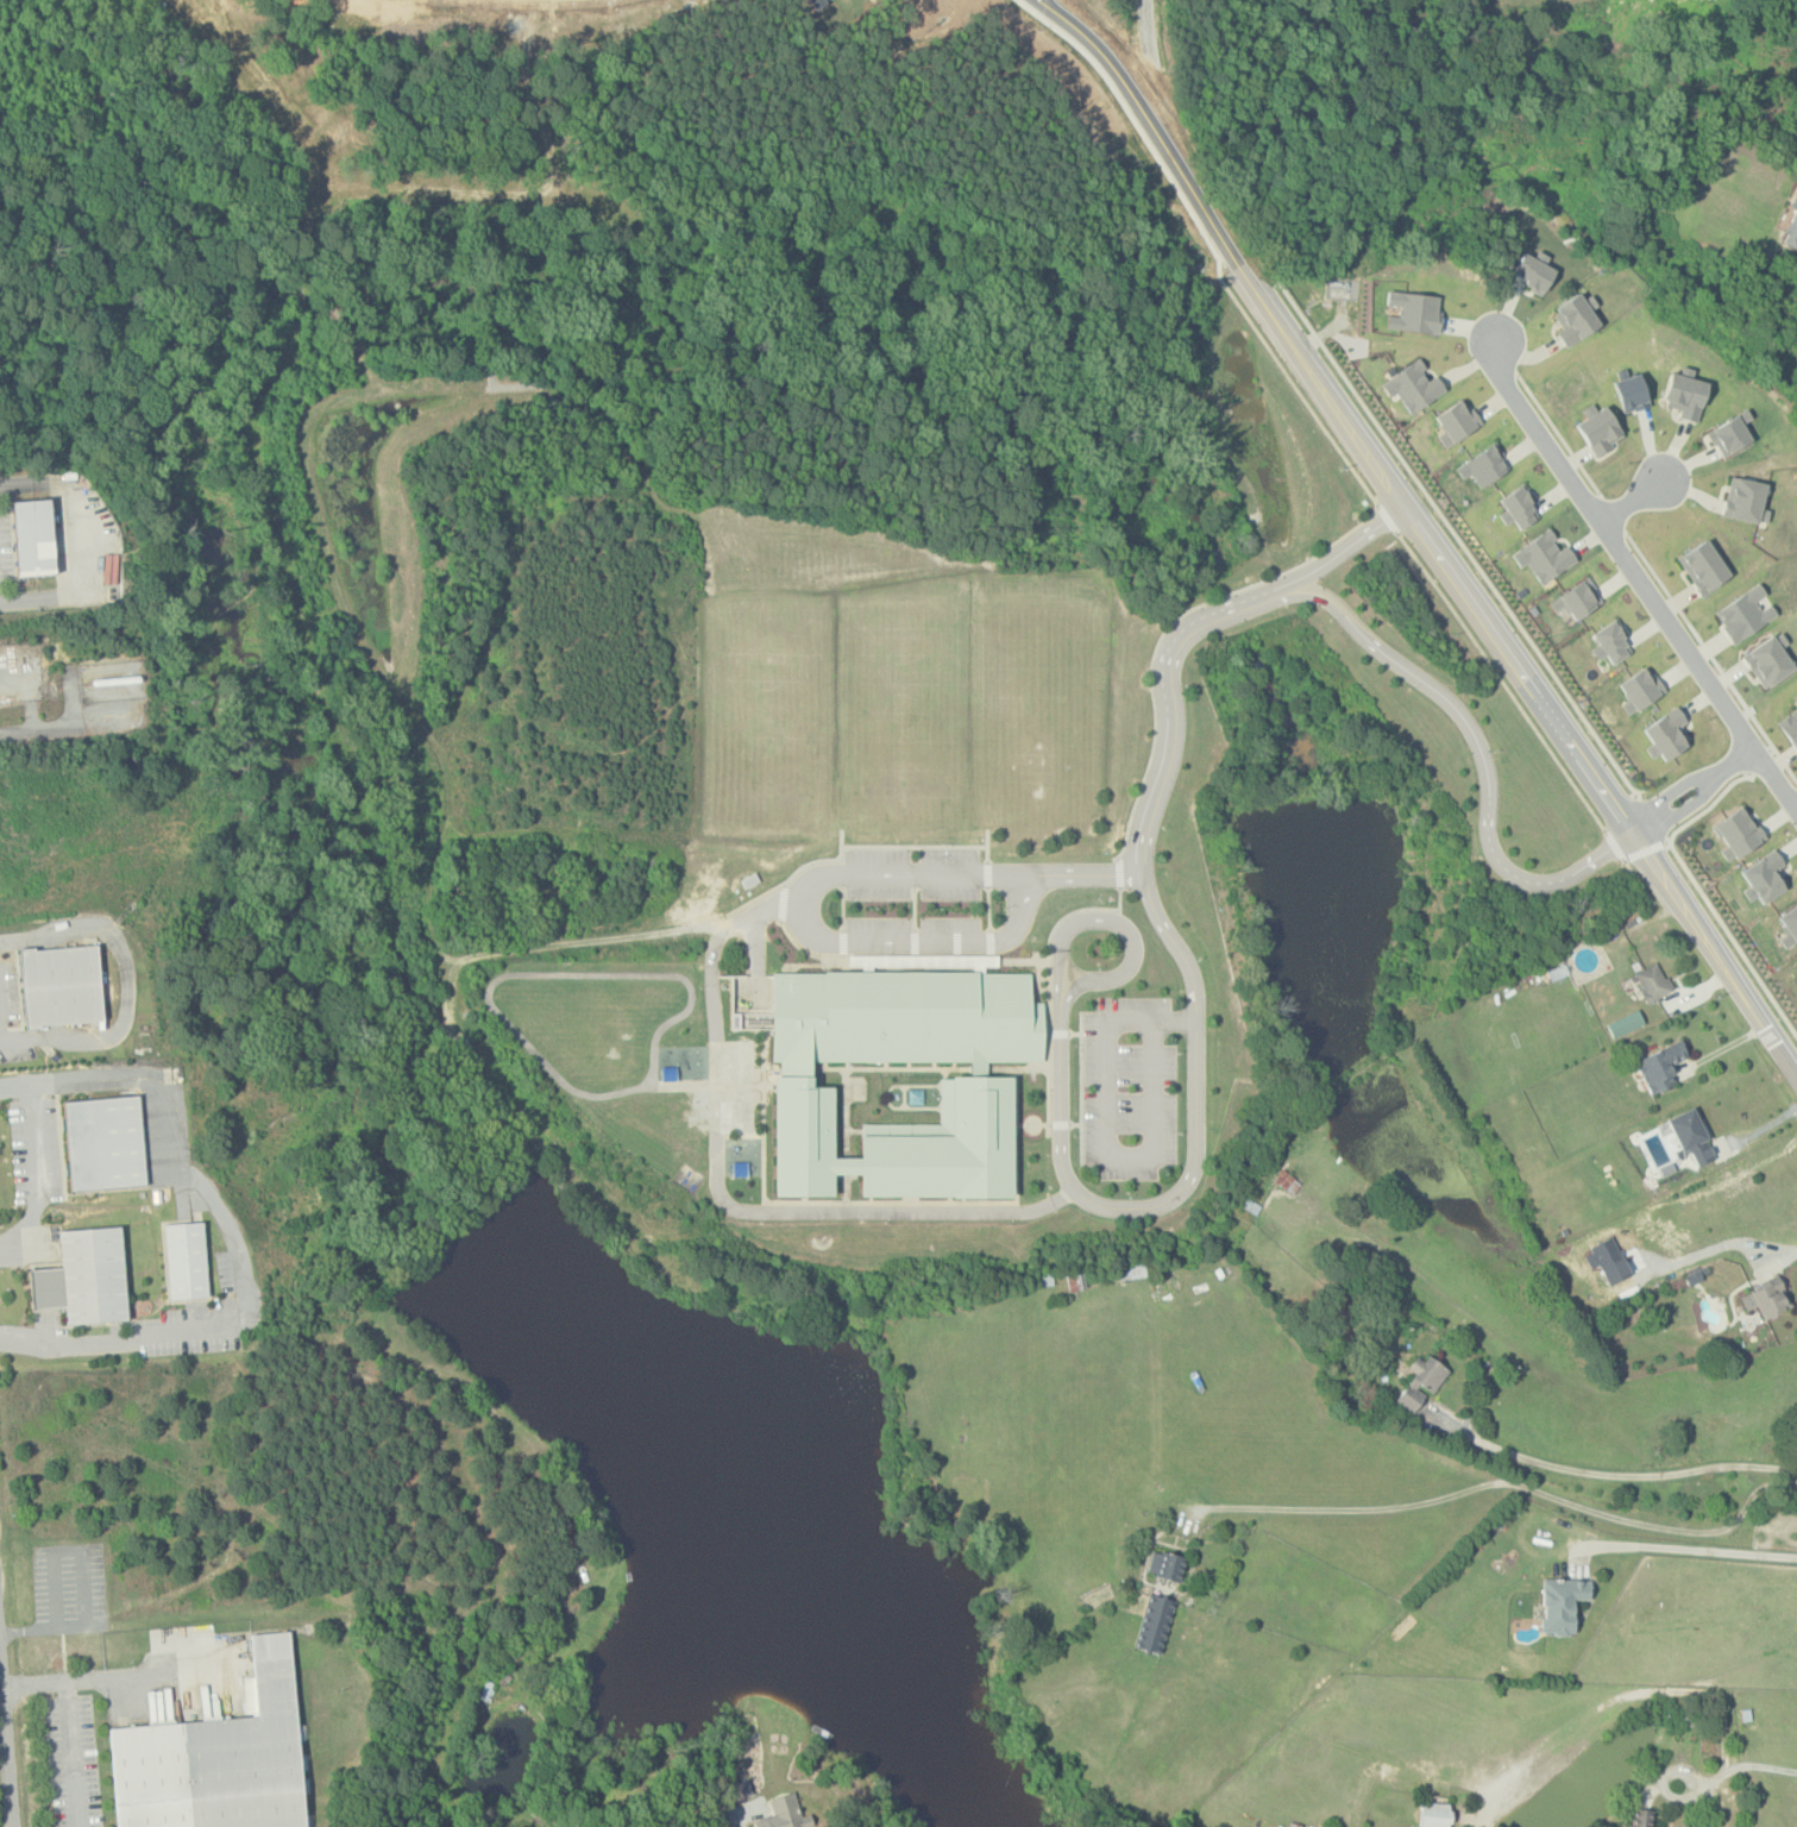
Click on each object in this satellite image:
building: (1791, 230)
road: (1208, 243)
building: (1533, 270)
building: (1413, 312)
building: (1575, 318)
building: (1412, 385)
building: (1631, 393)
building: (1684, 394)
building: (1456, 421)
building: (1597, 428)
road: (1558, 432)
building: (1729, 433)
building: (1483, 465)
road: (1631, 498)
building: (1745, 500)
building: (1518, 507)
road: (1613, 509)
building: (20, 514)
road: (1387, 519)
building: (34, 535)
road: (1425, 535)
road: (1459, 538)
road: (76, 547)
road: (1340, 552)
building: (1542, 555)
building: (1702, 566)
road: (1638, 573)
building: (1576, 599)
building: (1743, 614)
road: (1168, 628)
building: (1609, 642)
road: (1711, 654)
building: (1767, 660)
road: (1501, 680)
building: (1639, 689)
road: (1168, 702)
building: (1796, 702)
road: (59, 724)
building: (1790, 727)
building: (1665, 734)
road: (1478, 748)
road: (1733, 753)
road: (1758, 759)
road: (1667, 791)
road: (1708, 806)
road: (1680, 808)
road: (1652, 818)
building: (1738, 833)
road: (1628, 855)
road: (1118, 872)
road: (1087, 874)
building: (1764, 877)
road: (1634, 878)
road: (1119, 923)
building: (1789, 924)
road: (811, 934)
road: (1733, 937)
building: (44, 959)
building: (1652, 981)
road: (1049, 982)
road: (130, 984)
building: (1625, 1023)
road: (1058, 1034)
road: (1075, 1034)
building: (1660, 1066)
building: (891, 1079)
road: (1082, 1088)
building: (89, 1116)
road: (1076, 1124)
road: (1058, 1125)
road: (1107, 1134)
building: (1690, 1135)
road: (42, 1174)
road: (1188, 1180)
road: (231, 1231)
building: (171, 1236)
road: (1719, 1247)
building: (69, 1251)
building: (186, 1260)
building: (1607, 1260)
building: (1768, 1297)
building: (1418, 1382)
road: (1639, 1475)
road: (1507, 1482)
road: (68, 1547)
road: (1689, 1549)
building: (1164, 1565)
building: (1560, 1603)
building: (1152, 1622)
road: (43, 1627)
road: (114, 1677)
road: (7, 1743)
road: (71, 1754)
building: (220, 1758)
road: (1734, 1768)
building: (737, 1790)
building: (781, 1813)
building: (1434, 1814)
building: (1641, 1817)
road: (734, 1819)
building: (1294, 1825)

